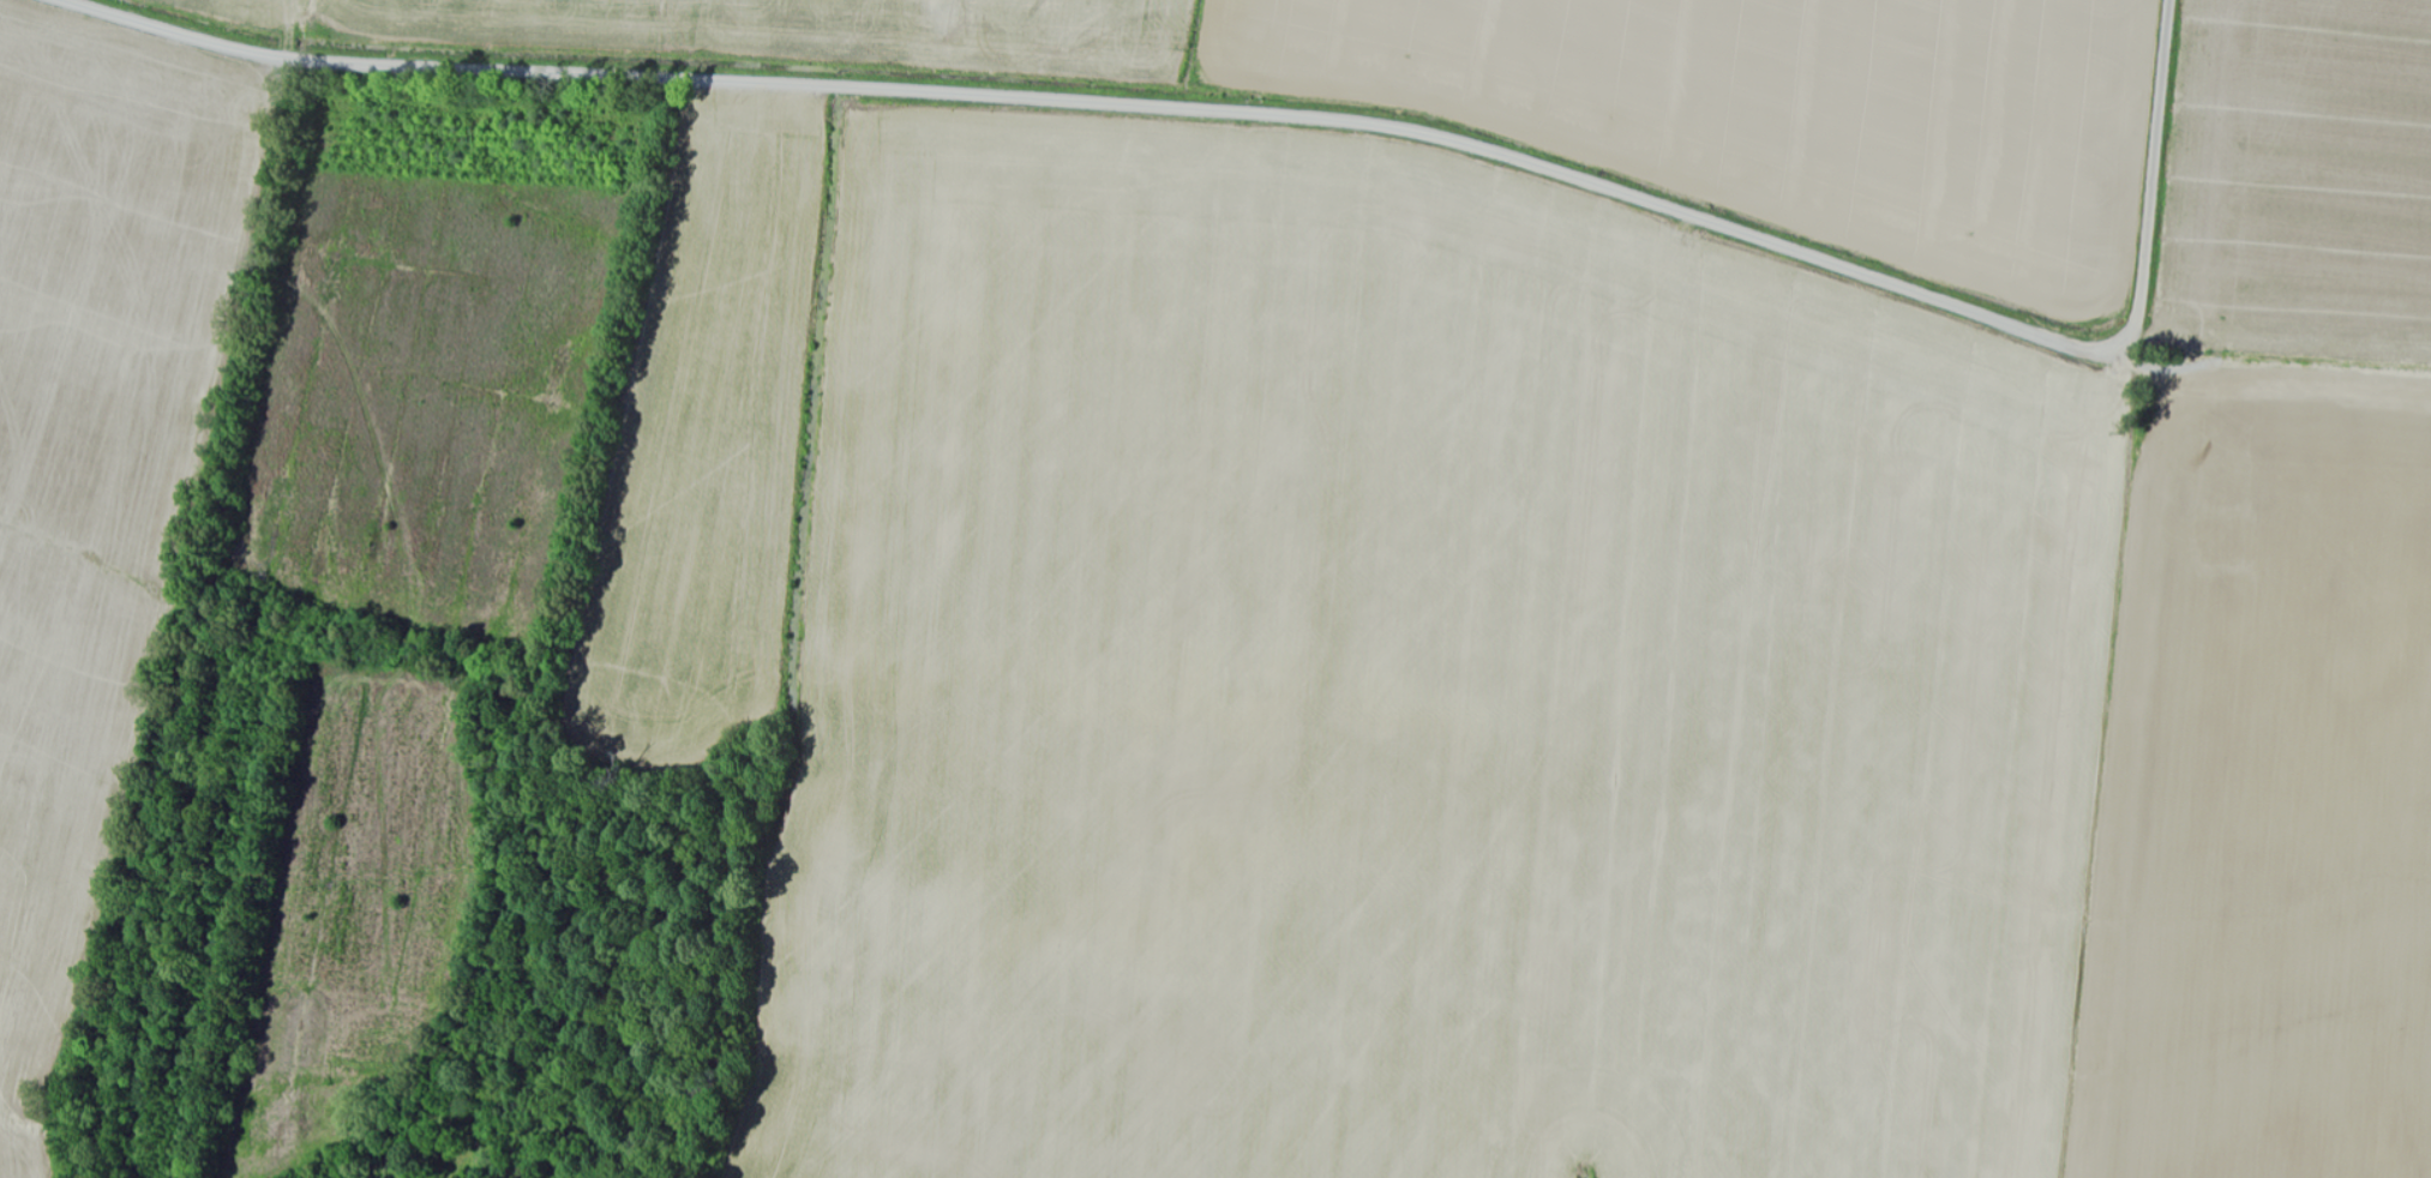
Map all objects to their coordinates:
road: (1280, 116)
road: (590, 595)
road: (1319, 656)

